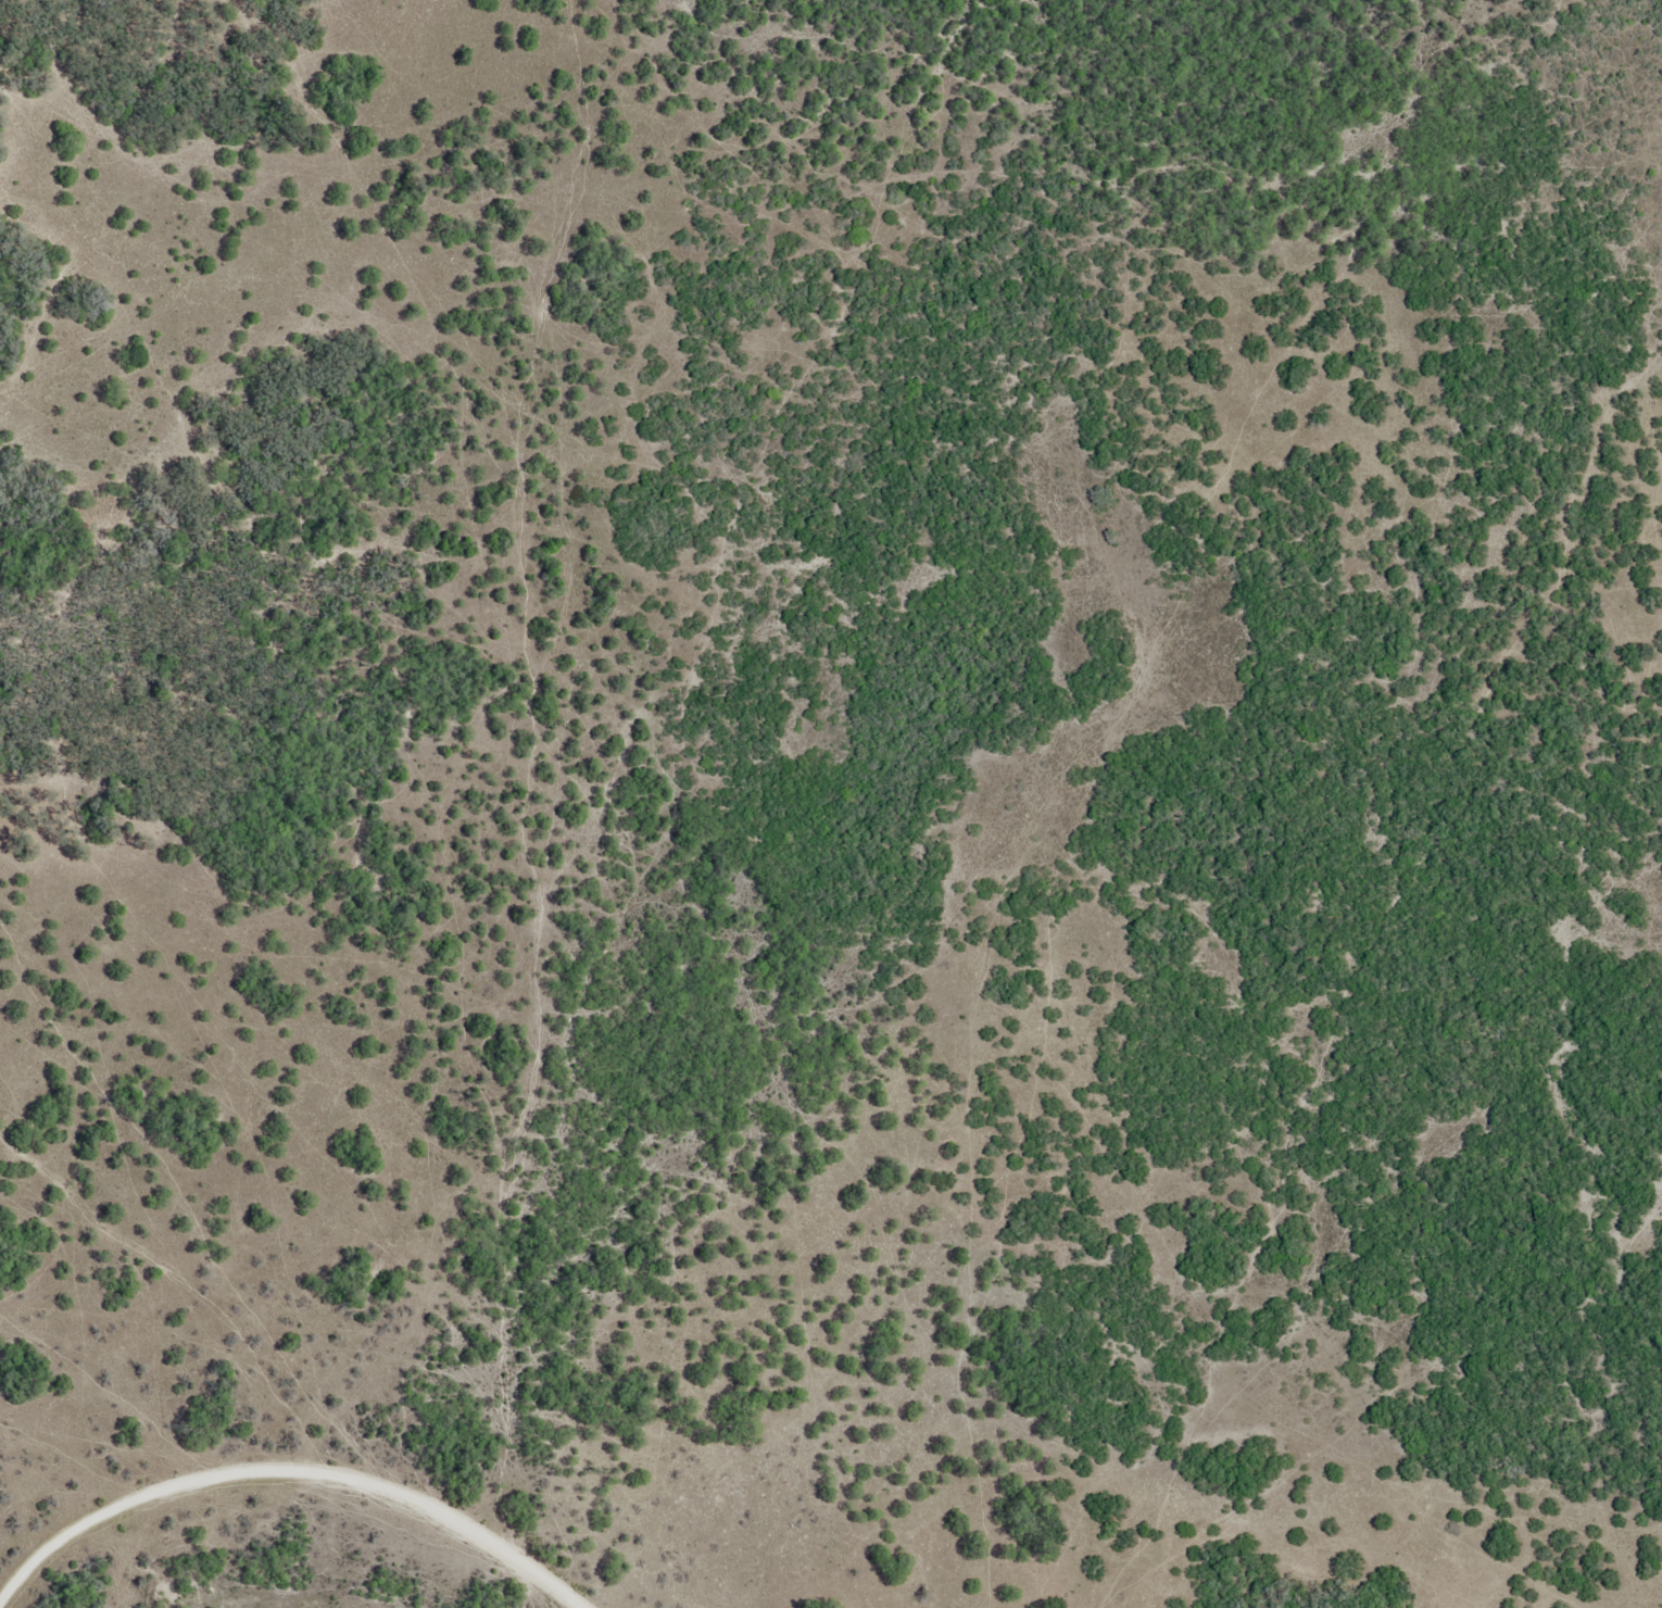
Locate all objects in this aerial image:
road: (304, 1443)

